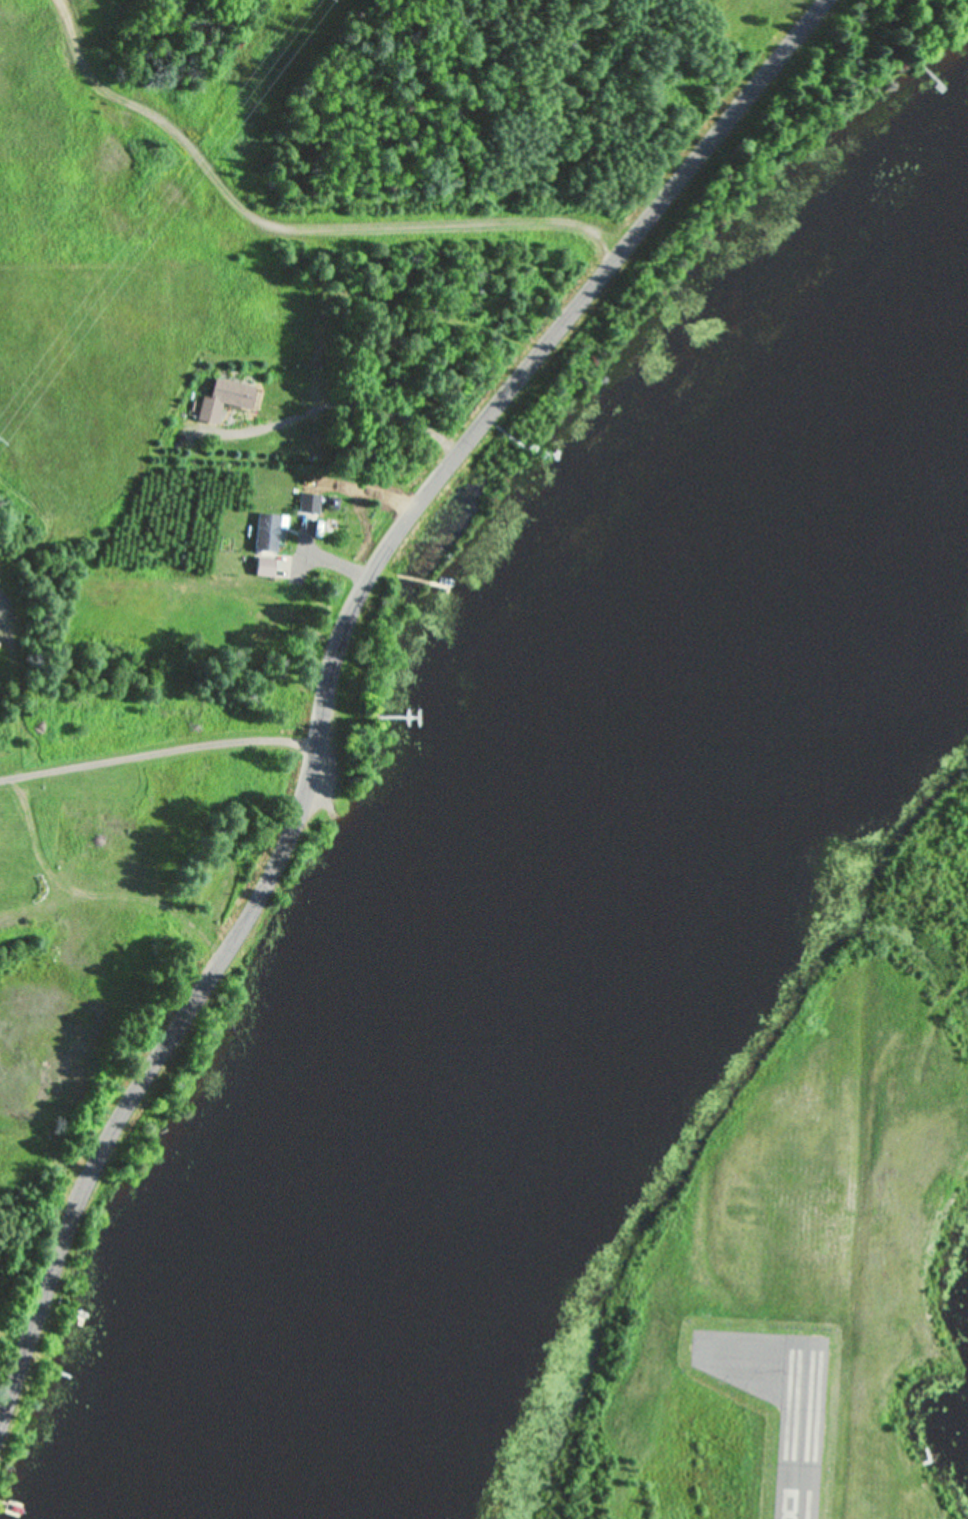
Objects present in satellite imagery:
building: (268, 532)
building: (264, 567)
road: (337, 648)
river: (545, 878)
airport: (783, 1245)
airport runway: (801, 1432)

